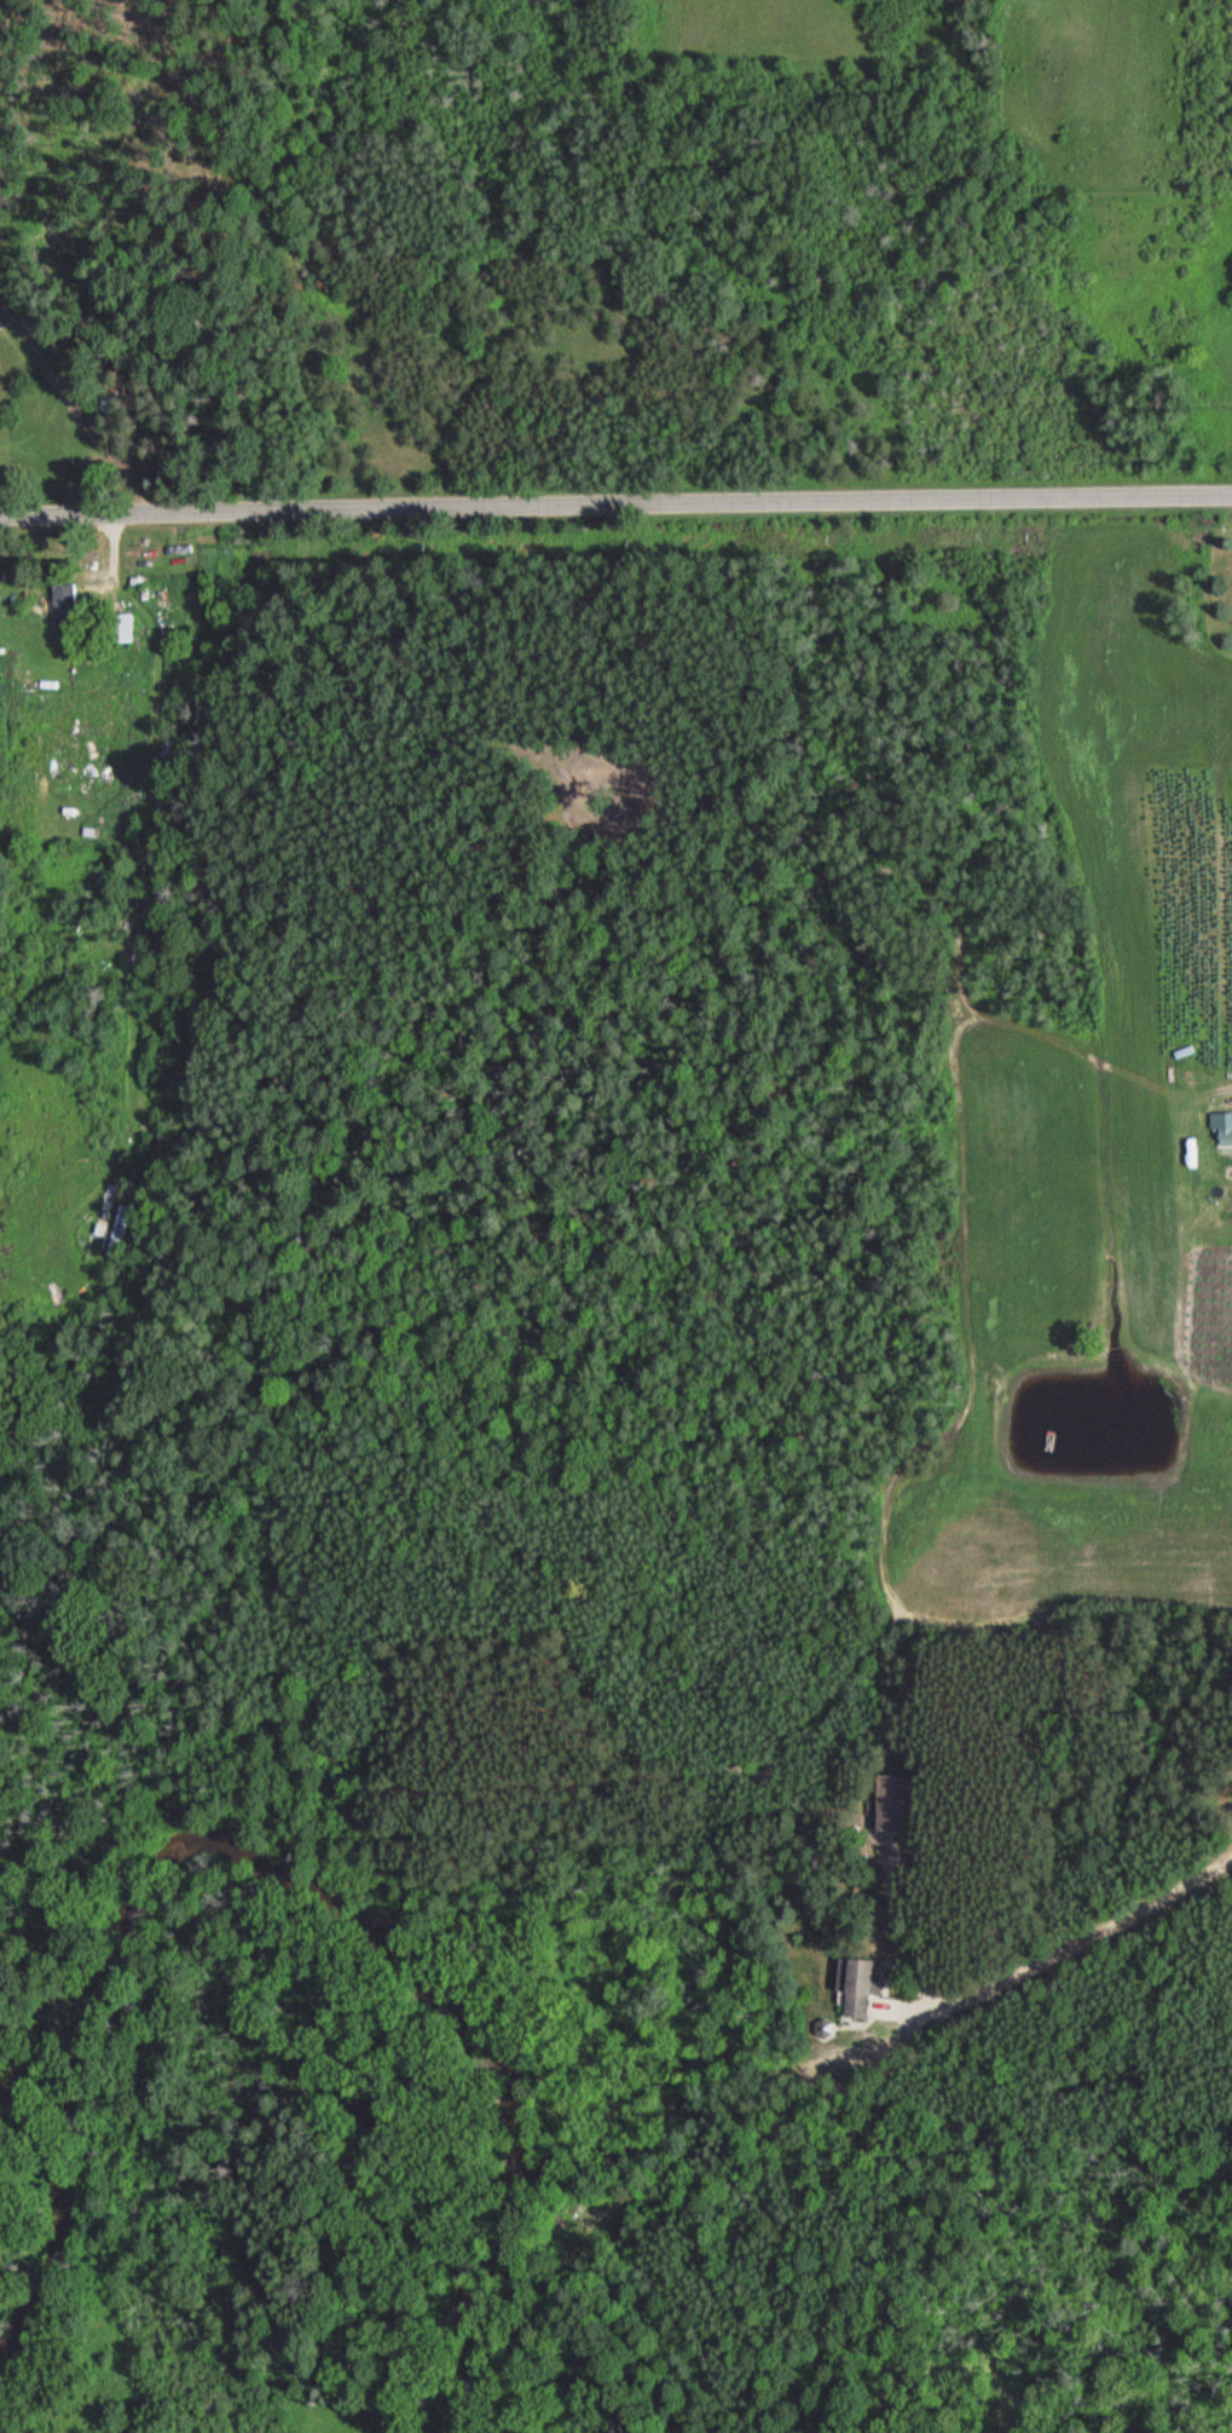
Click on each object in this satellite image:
building: (116, 399)
road: (615, 508)
building: (63, 601)
building: (118, 627)
building: (1221, 1132)
building: (120, 1229)
building: (893, 1804)
river: (294, 1874)
road: (907, 1926)
road: (1059, 1950)
building: (856, 1985)

